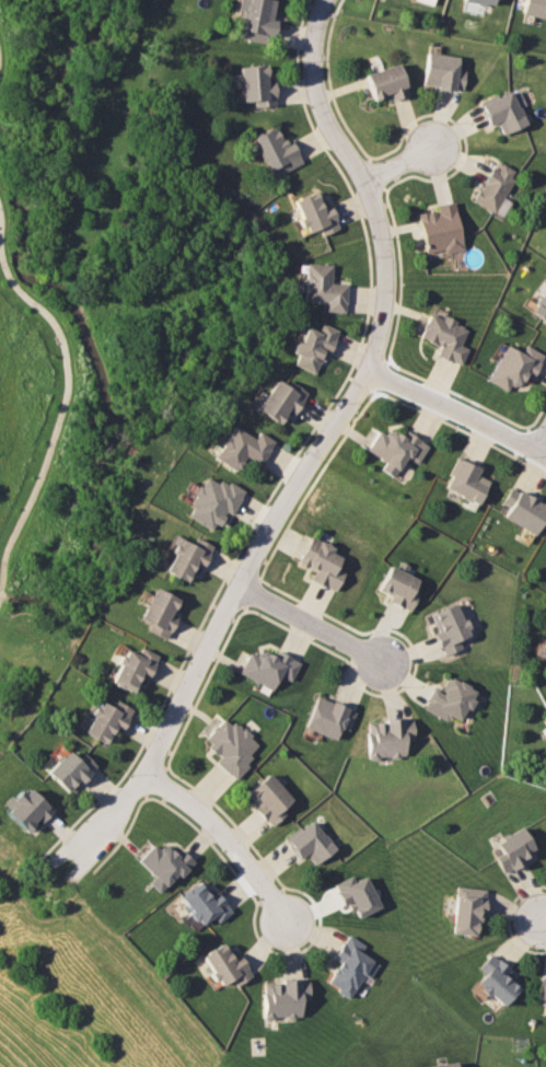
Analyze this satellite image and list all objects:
building: (428, 1)
building: (484, 1)
building: (535, 8)
building: (258, 21)
building: (443, 71)
building: (387, 82)
building: (255, 84)
building: (503, 112)
building: (277, 151)
road: (398, 160)
building: (495, 186)
building: (315, 213)
building: (441, 229)
building: (324, 287)
building: (541, 305)
park: (102, 308)
building: (445, 336)
building: (313, 346)
building: (514, 366)
building: (281, 399)
road: (456, 407)
road: (60, 409)
road: (542, 441)
building: (243, 448)
building: (395, 449)
road: (316, 451)
building: (466, 480)
building: (211, 500)
building: (523, 509)
building: (186, 556)
building: (323, 563)
building: (159, 612)
road: (315, 624)
building: (449, 628)
building: (544, 653)
building: (269, 666)
building: (132, 668)
building: (449, 699)
building: (544, 705)
building: (545, 714)
building: (328, 717)
building: (106, 719)
building: (387, 737)
building: (231, 745)
building: (69, 769)
building: (269, 797)
building: (27, 808)
road: (224, 839)
building: (310, 842)
building: (512, 849)
building: (163, 865)
building: (357, 895)
building: (201, 904)
building: (466, 909)
road: (536, 915)
building: (224, 965)
building: (349, 965)
building: (496, 979)
building: (543, 993)
building: (283, 997)
building: (441, 1065)

